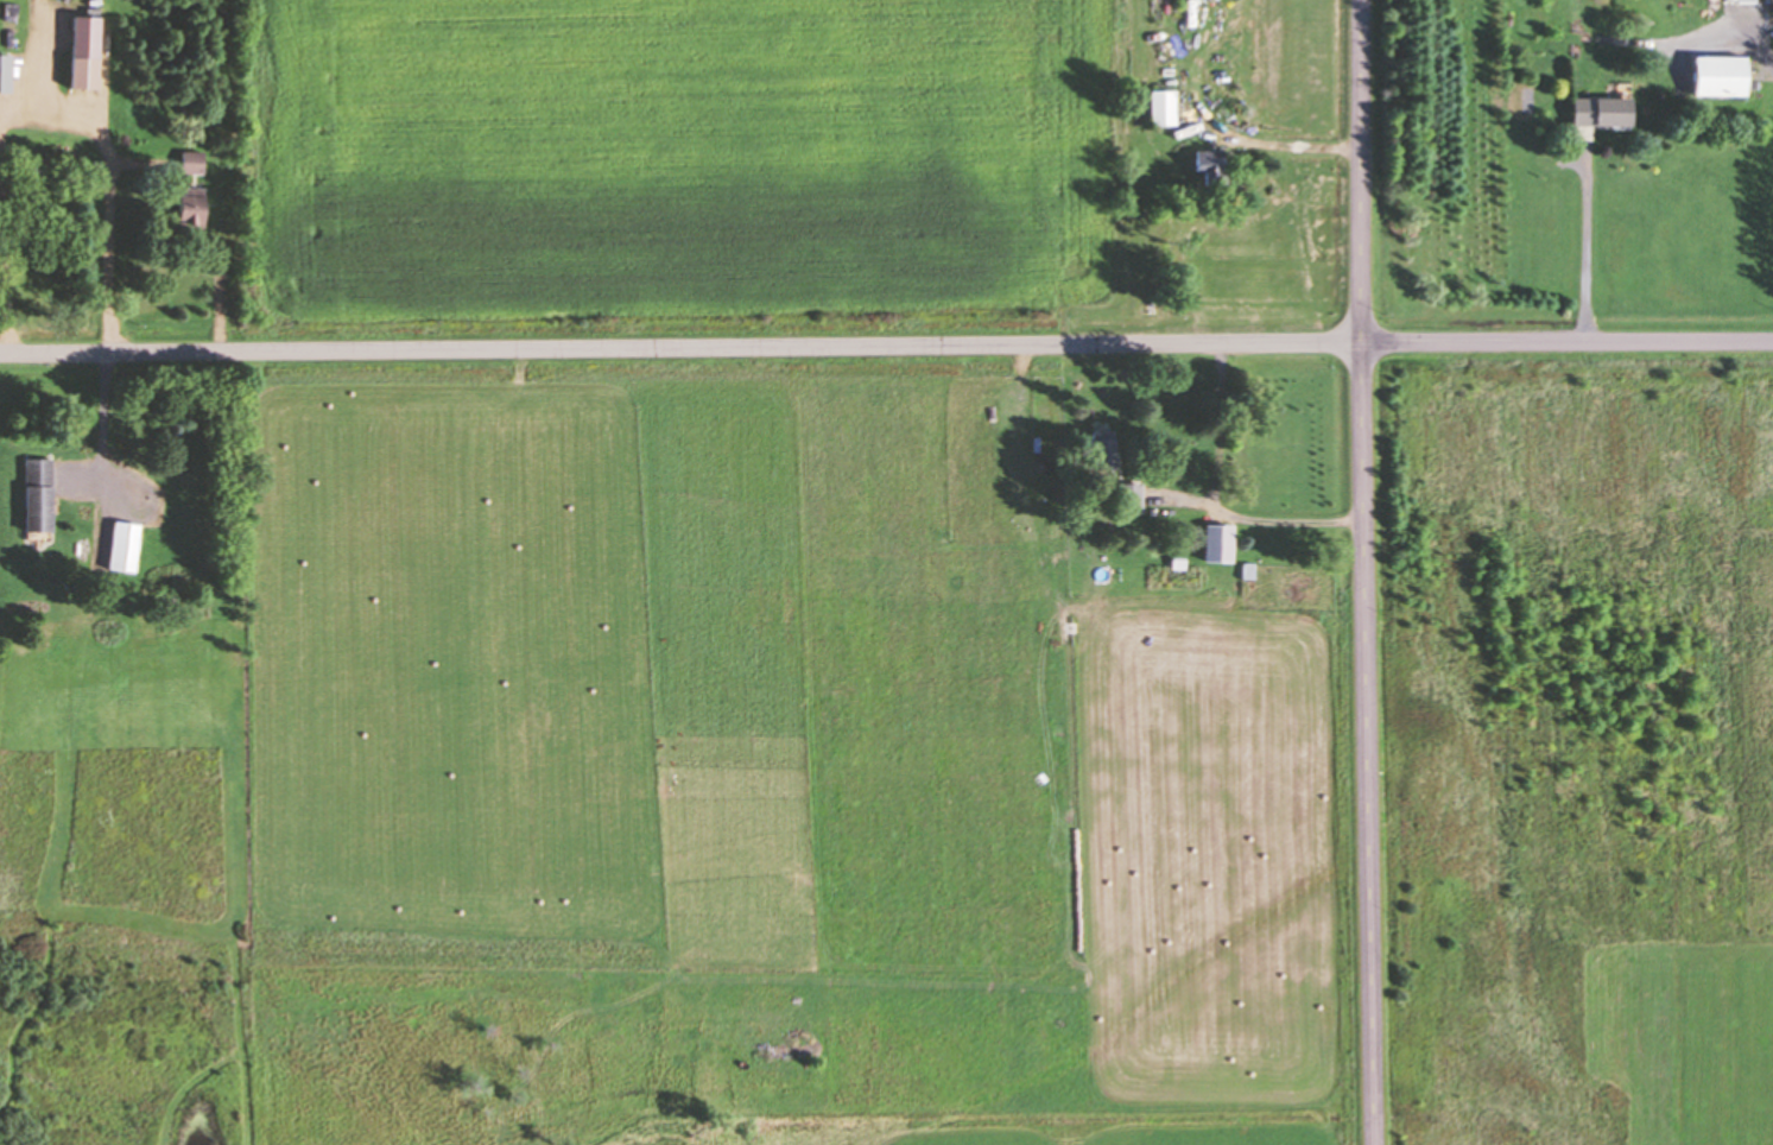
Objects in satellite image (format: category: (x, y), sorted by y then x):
building: (1737, 0)
building: (1, 72)
building: (78, 72)
building: (1709, 76)
building: (1155, 108)
building: (1591, 112)
building: (188, 163)
building: (1202, 166)
building: (179, 209)
road: (886, 343)
building: (1095, 448)
building: (31, 494)
building: (1125, 498)
building: (116, 546)
road: (1362, 572)

